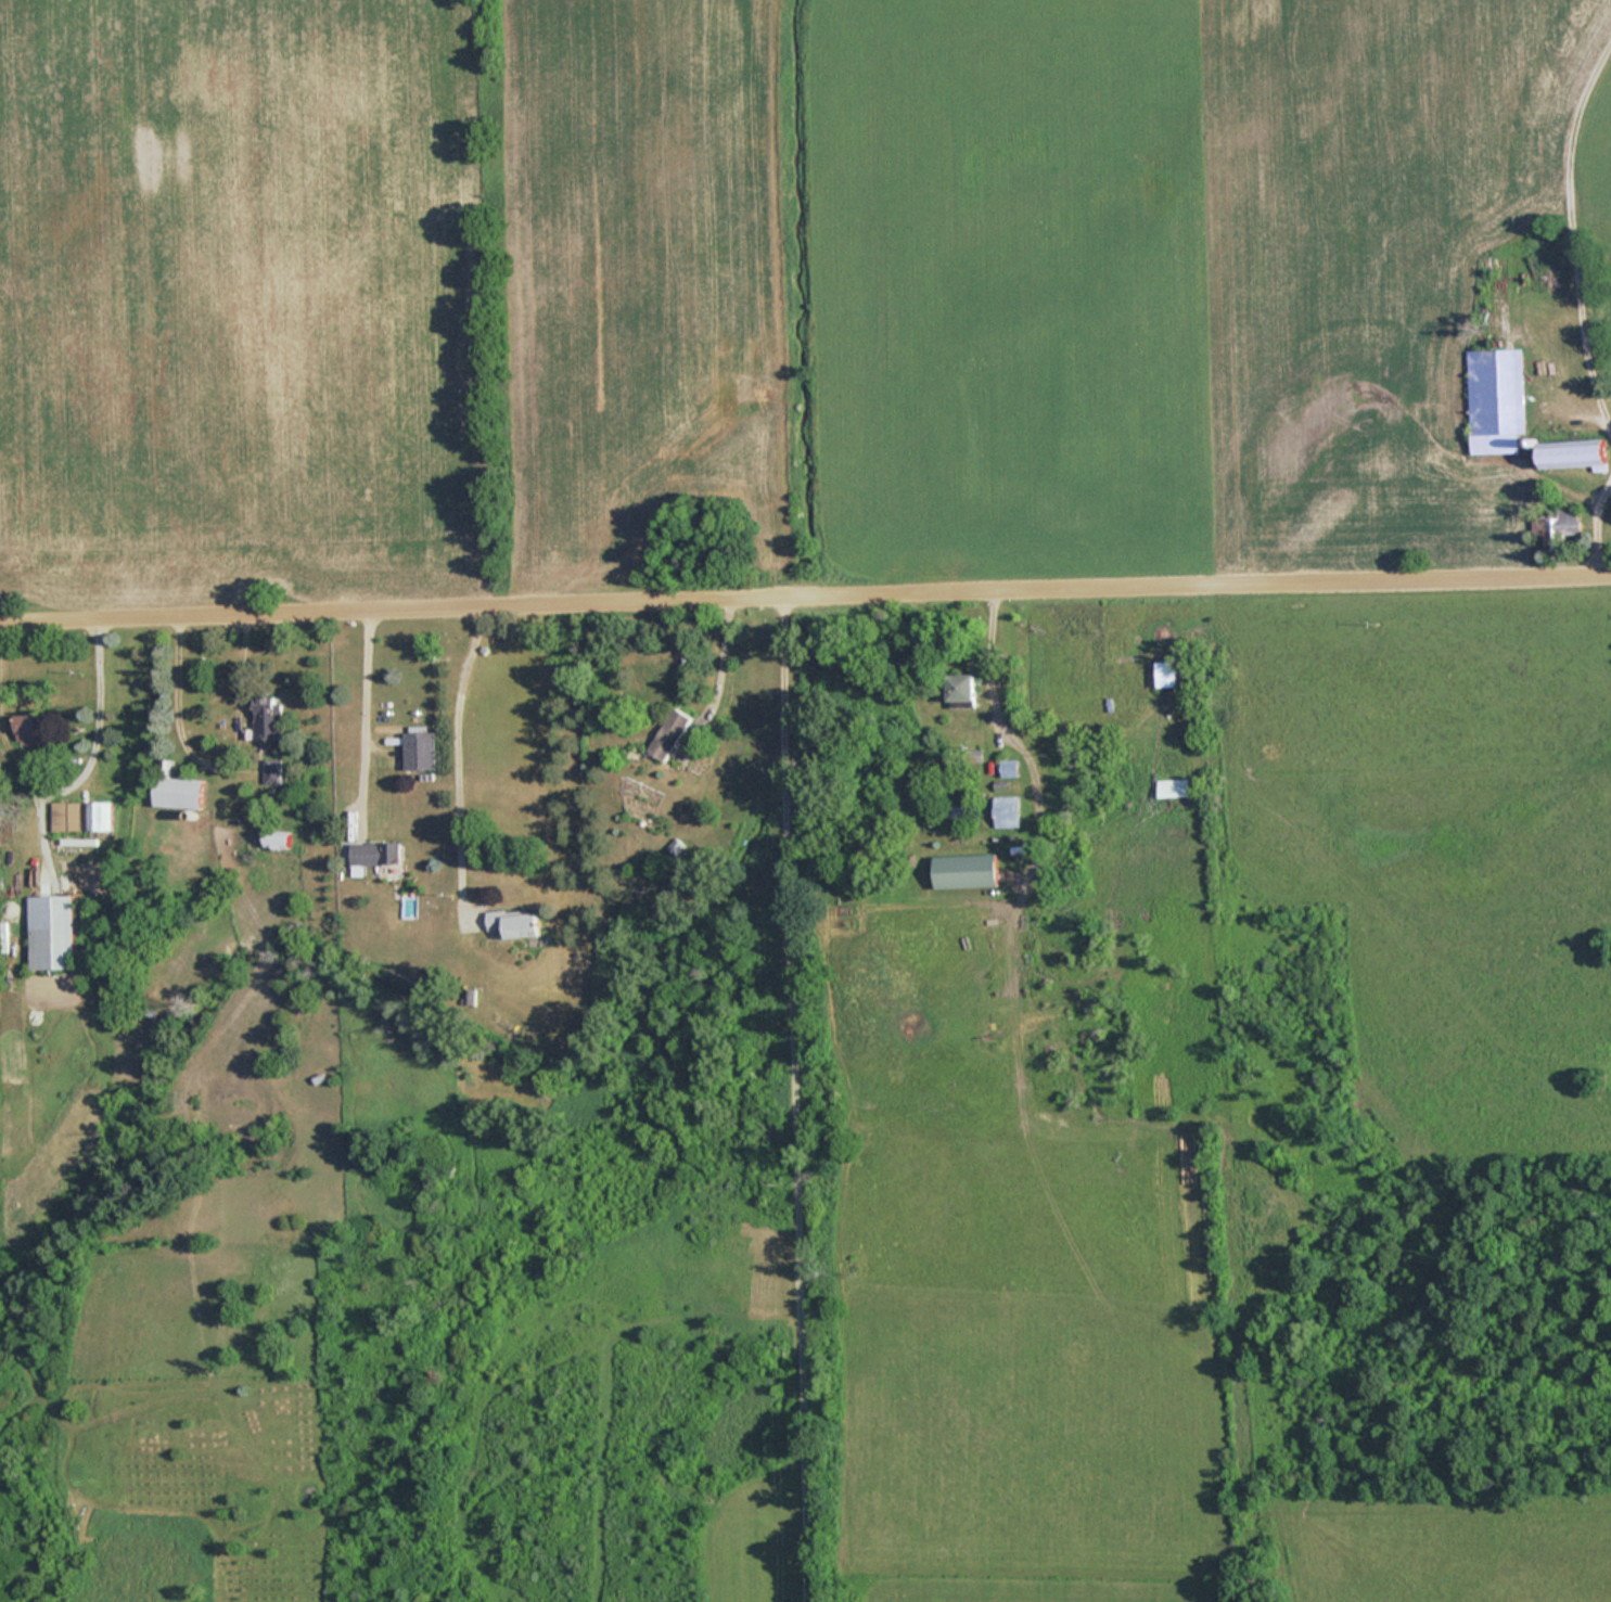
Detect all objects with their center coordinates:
road: (1571, 297)
building: (1495, 400)
building: (1571, 454)
road: (1606, 482)
building: (1556, 527)
road: (805, 593)
building: (1165, 674)
building: (960, 690)
building: (267, 717)
road: (354, 719)
building: (27, 726)
building: (668, 733)
road: (997, 735)
road: (87, 746)
building: (419, 749)
road: (448, 757)
road: (214, 764)
building: (271, 771)
building: (1171, 786)
building: (177, 792)
building: (1006, 811)
building: (80, 815)
building: (373, 853)
building: (964, 871)
building: (512, 923)
building: (51, 931)
road: (787, 1098)

